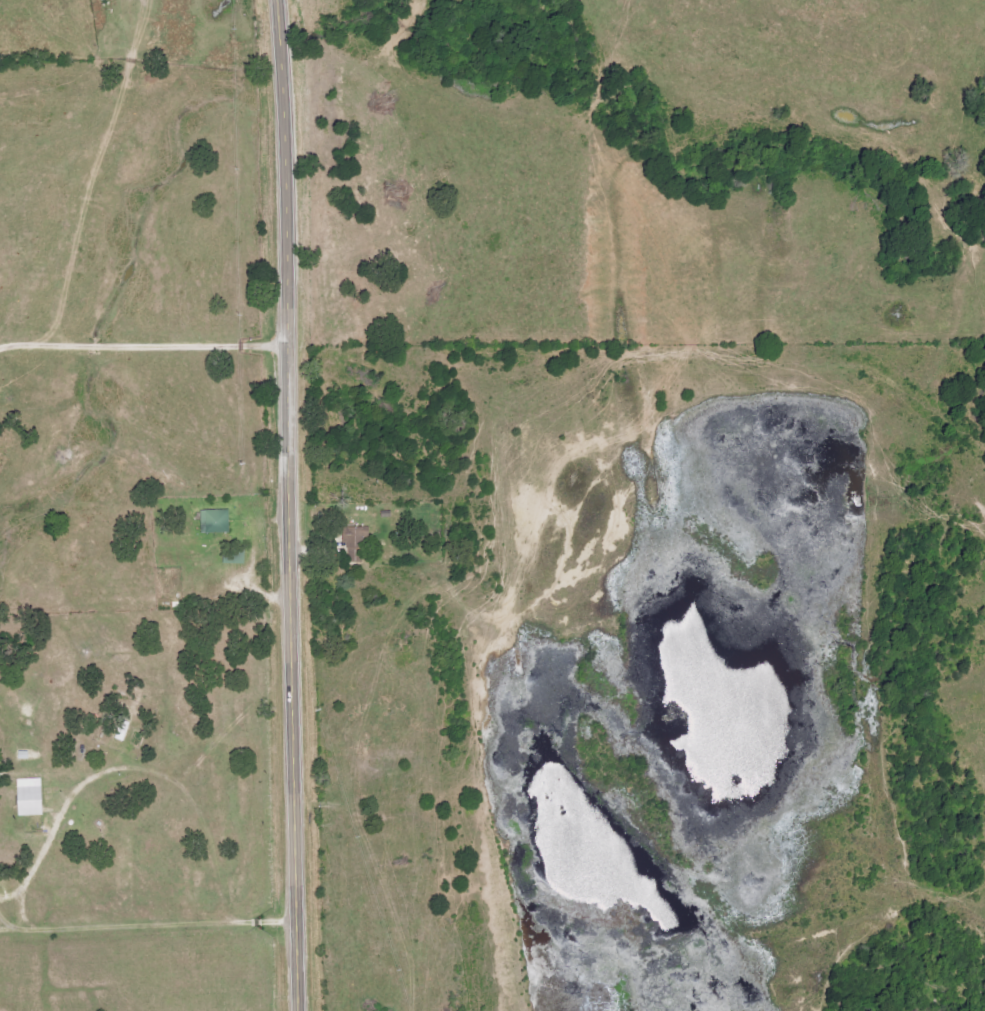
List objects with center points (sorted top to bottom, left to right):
road: (289, 505)
building: (213, 521)
building: (354, 537)
building: (28, 797)

